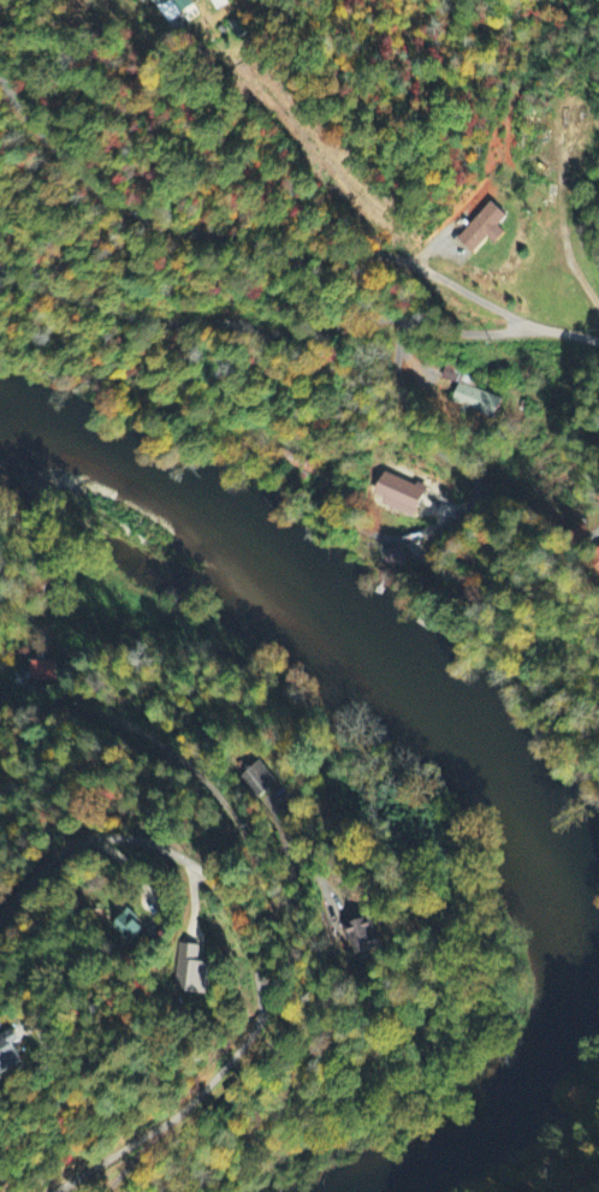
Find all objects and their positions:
building: (165, 0)
building: (183, 4)
building: (482, 229)
road: (296, 336)
building: (469, 395)
building: (398, 494)
building: (597, 555)
building: (395, 559)
building: (42, 672)
river: (496, 767)
building: (257, 779)
building: (127, 929)
building: (363, 937)
road: (251, 955)
building: (189, 972)
building: (8, 1054)

